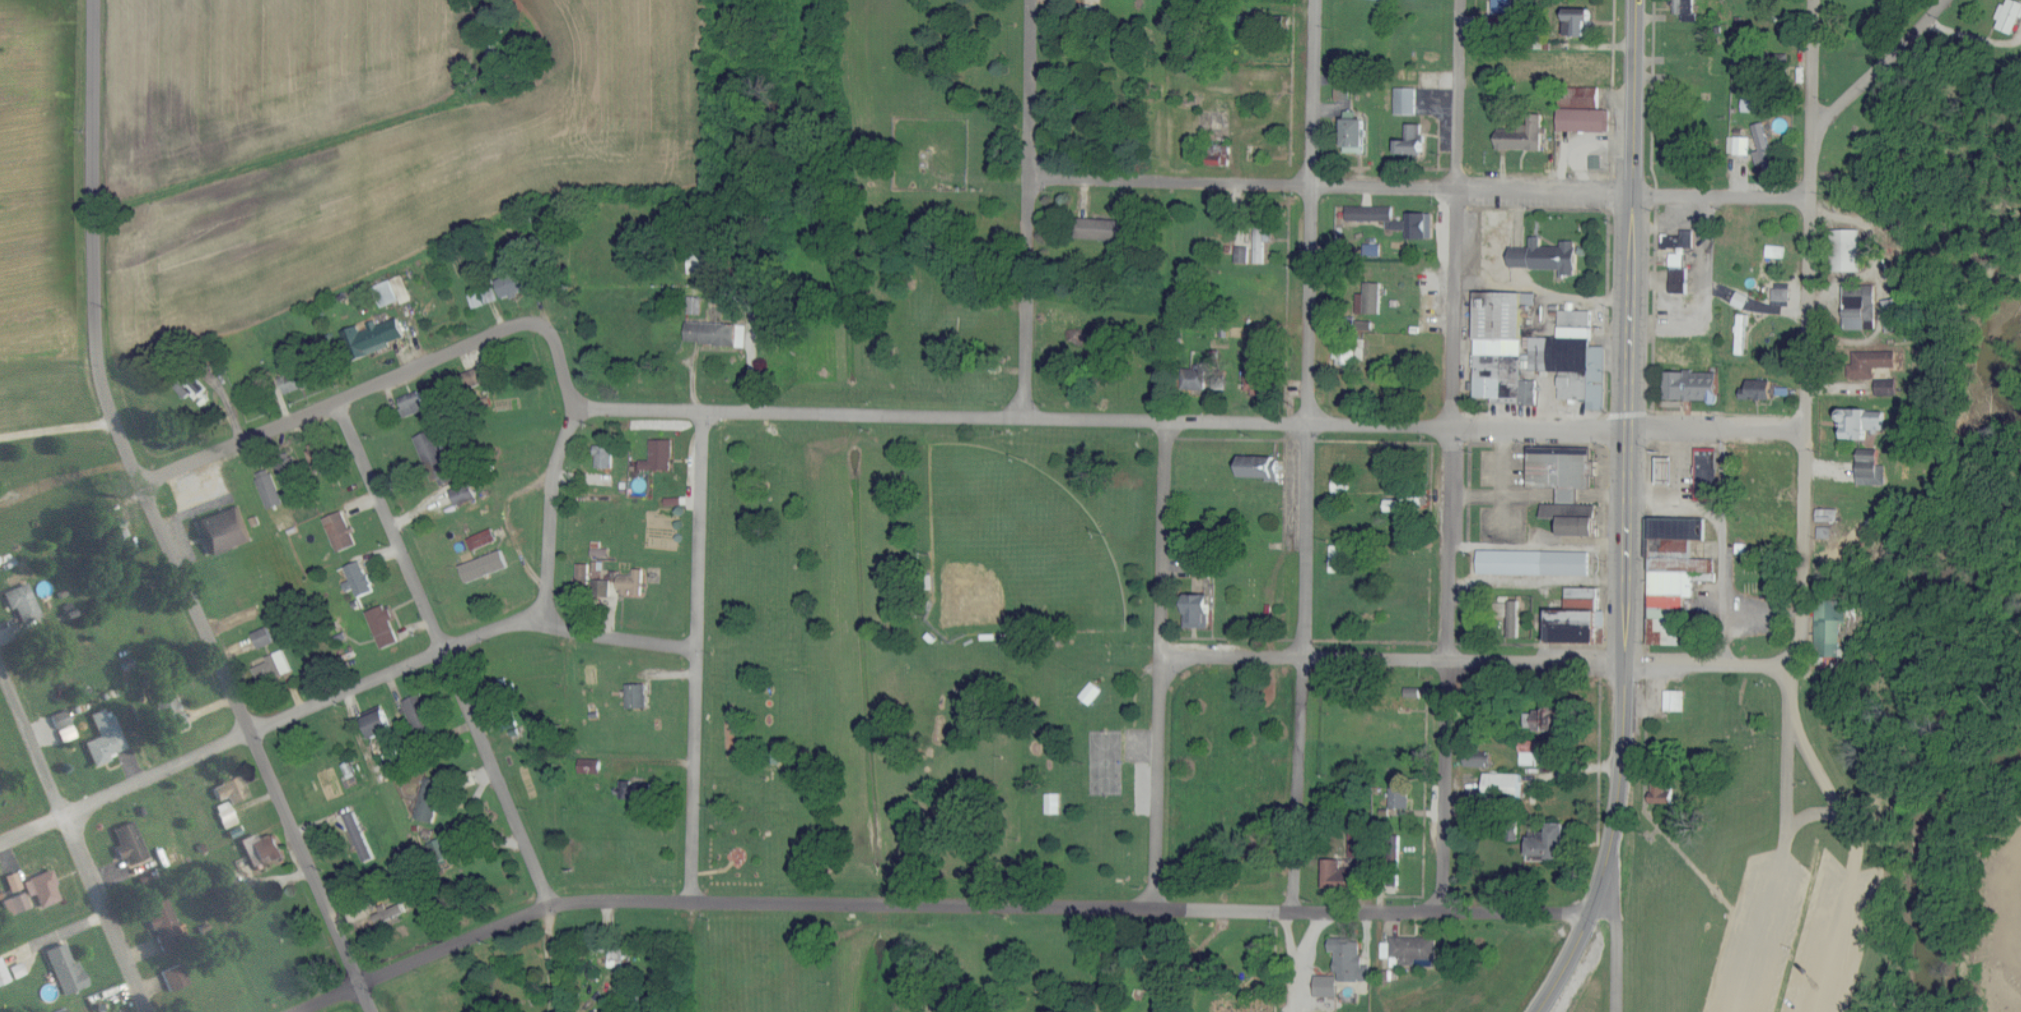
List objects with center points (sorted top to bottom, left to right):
building: (1504, 7)
building: (1685, 7)
road: (121, 12)
building: (2010, 17)
building: (1260, 23)
building: (1580, 23)
road: (1881, 40)
building: (1782, 59)
building: (1344, 88)
building: (1584, 97)
building: (1407, 102)
building: (1755, 106)
building: (1585, 121)
building: (1356, 136)
building: (1525, 137)
building: (1413, 142)
road: (46, 144)
building: (1740, 146)
building: (1765, 149)
building: (1597, 162)
road: (1419, 189)
road: (1029, 209)
building: (1370, 215)
building: (1421, 224)
building: (1103, 230)
building: (1679, 239)
building: (1262, 240)
building: (1848, 249)
building: (1776, 251)
building: (1243, 255)
building: (1548, 256)
building: (1678, 259)
building: (704, 262)
building: (1681, 280)
building: (511, 285)
building: (393, 291)
building: (1783, 294)
building: (483, 298)
building: (1371, 298)
building: (695, 305)
building: (1861, 306)
building: (1898, 314)
building: (374, 337)
road: (1806, 337)
building: (1260, 352)
building: (1536, 352)
building: (1347, 353)
building: (1871, 363)
building: (1196, 379)
building: (1259, 379)
road: (386, 380)
building: (295, 383)
building: (1694, 385)
building: (1888, 387)
building: (1759, 389)
building: (412, 403)
road: (1189, 421)
building: (1862, 422)
road: (57, 430)
building: (660, 455)
building: (604, 456)
road: (1452, 456)
building: (316, 458)
building: (436, 458)
road: (1627, 458)
road: (1675, 463)
building: (1260, 466)
building: (287, 467)
building: (1872, 469)
building: (1707, 474)
building: (1567, 485)
building: (270, 488)
building: (464, 494)
building: (1414, 500)
building: (1393, 505)
road: (1309, 506)
building: (1827, 514)
road: (555, 515)
road: (157, 522)
building: (223, 530)
building: (341, 531)
building: (115, 533)
building: (482, 539)
road: (1722, 541)
building: (599, 551)
building: (1341, 559)
building: (1535, 562)
building: (484, 566)
building: (1677, 569)
building: (584, 574)
building: (360, 578)
building: (632, 583)
building: (602, 589)
building: (22, 603)
building: (1199, 610)
building: (1580, 617)
building: (1515, 619)
building: (384, 626)
building: (1831, 628)
building: (263, 637)
road: (446, 653)
road: (695, 658)
road: (1473, 662)
road: (1160, 664)
building: (272, 667)
road: (340, 692)
building: (1413, 692)
building: (1092, 693)
road: (1788, 693)
building: (637, 695)
building: (1675, 700)
building: (169, 709)
building: (420, 714)
building: (1547, 720)
building: (378, 723)
building: (63, 726)
building: (103, 737)
building: (1534, 751)
building: (395, 762)
building: (1480, 762)
building: (590, 766)
building: (1504, 785)
building: (229, 790)
building: (636, 790)
building: (1662, 793)
building: (1401, 798)
building: (430, 800)
building: (1054, 803)
building: (225, 815)
road: (73, 837)
building: (1361, 843)
building: (1551, 844)
building: (132, 849)
building: (261, 849)
building: (440, 850)
road: (1856, 856)
road: (1783, 866)
building: (1337, 875)
building: (12, 882)
building: (41, 888)
building: (15, 904)
road: (934, 909)
building: (390, 915)
building: (163, 926)
building: (1415, 948)
road: (1618, 948)
building: (617, 958)
road: (552, 959)
building: (1352, 960)
road: (1566, 963)
building: (63, 968)
building: (16, 970)
building: (2, 975)
building: (173, 978)
building: (1328, 985)
building: (62, 1010)

